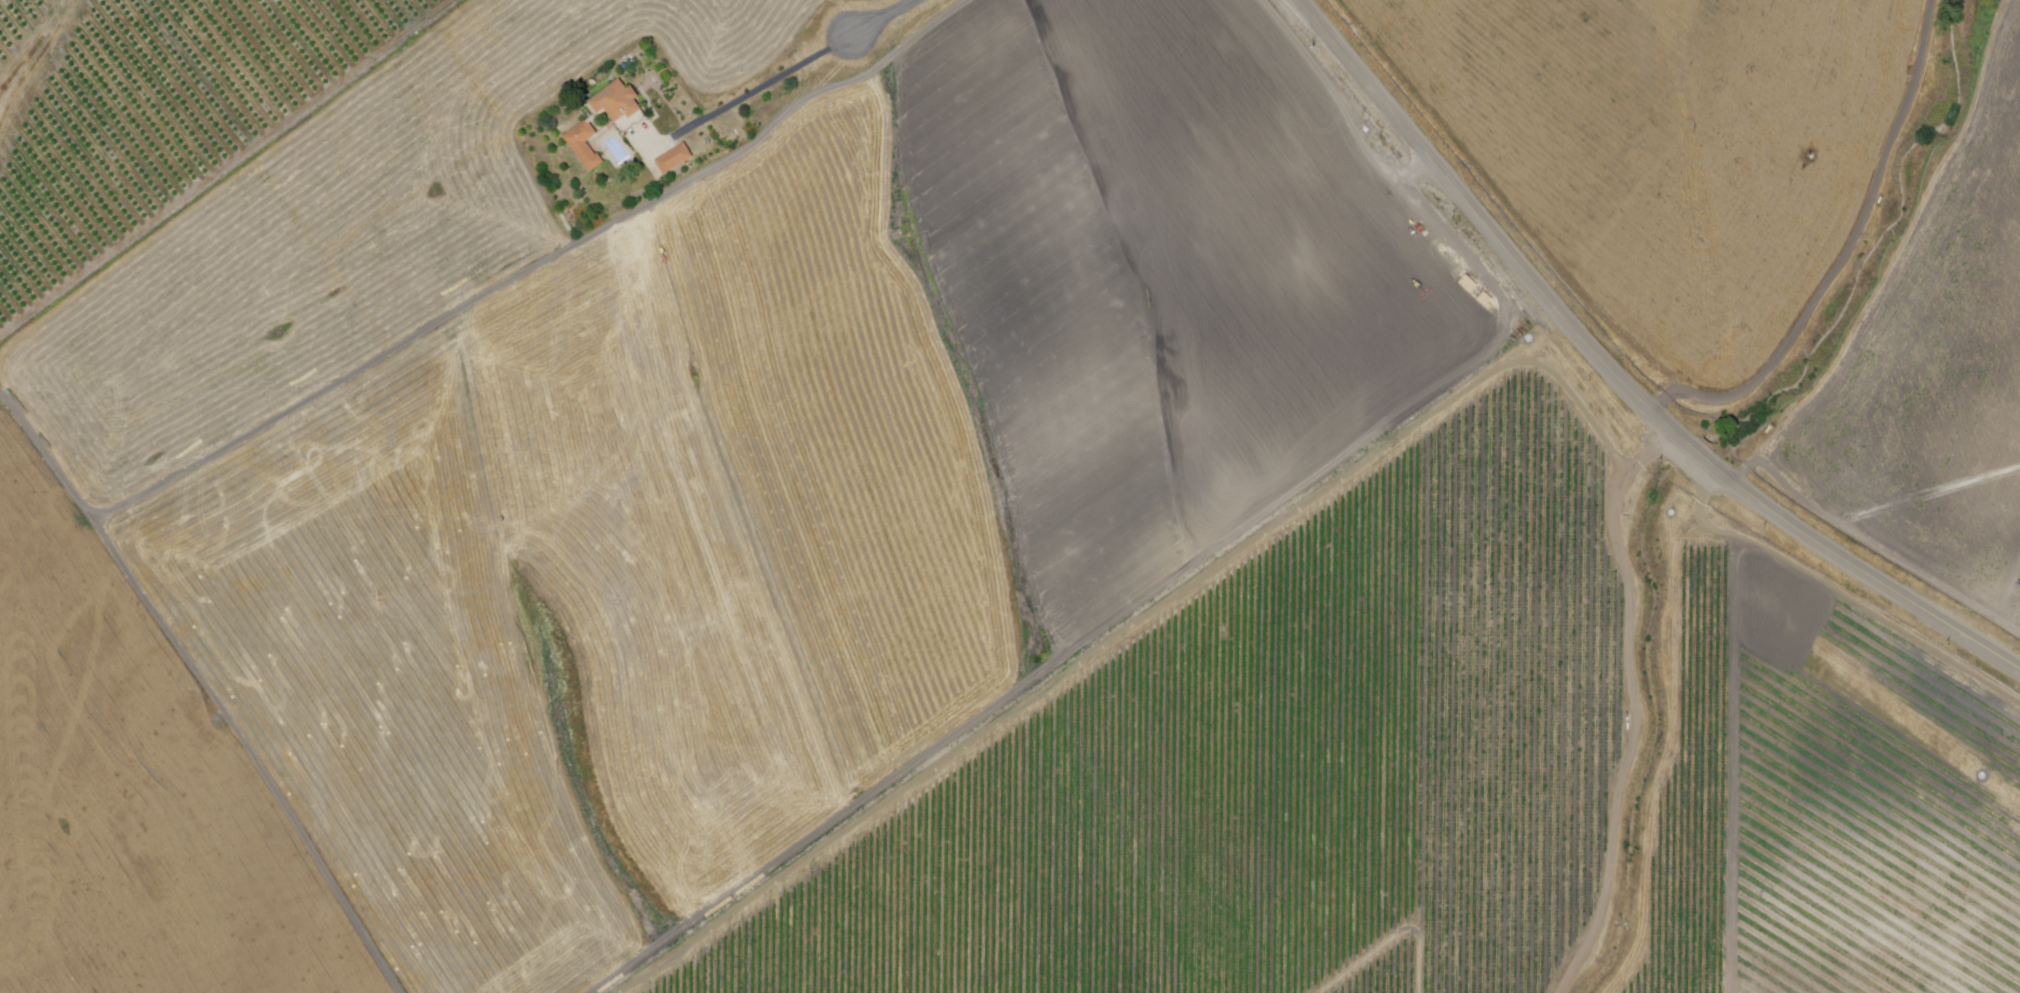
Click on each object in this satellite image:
crop: (17, 21)
road: (783, 76)
building: (618, 104)
crop: (162, 116)
building: (585, 147)
building: (675, 161)
road: (1613, 380)
crop: (648, 473)

